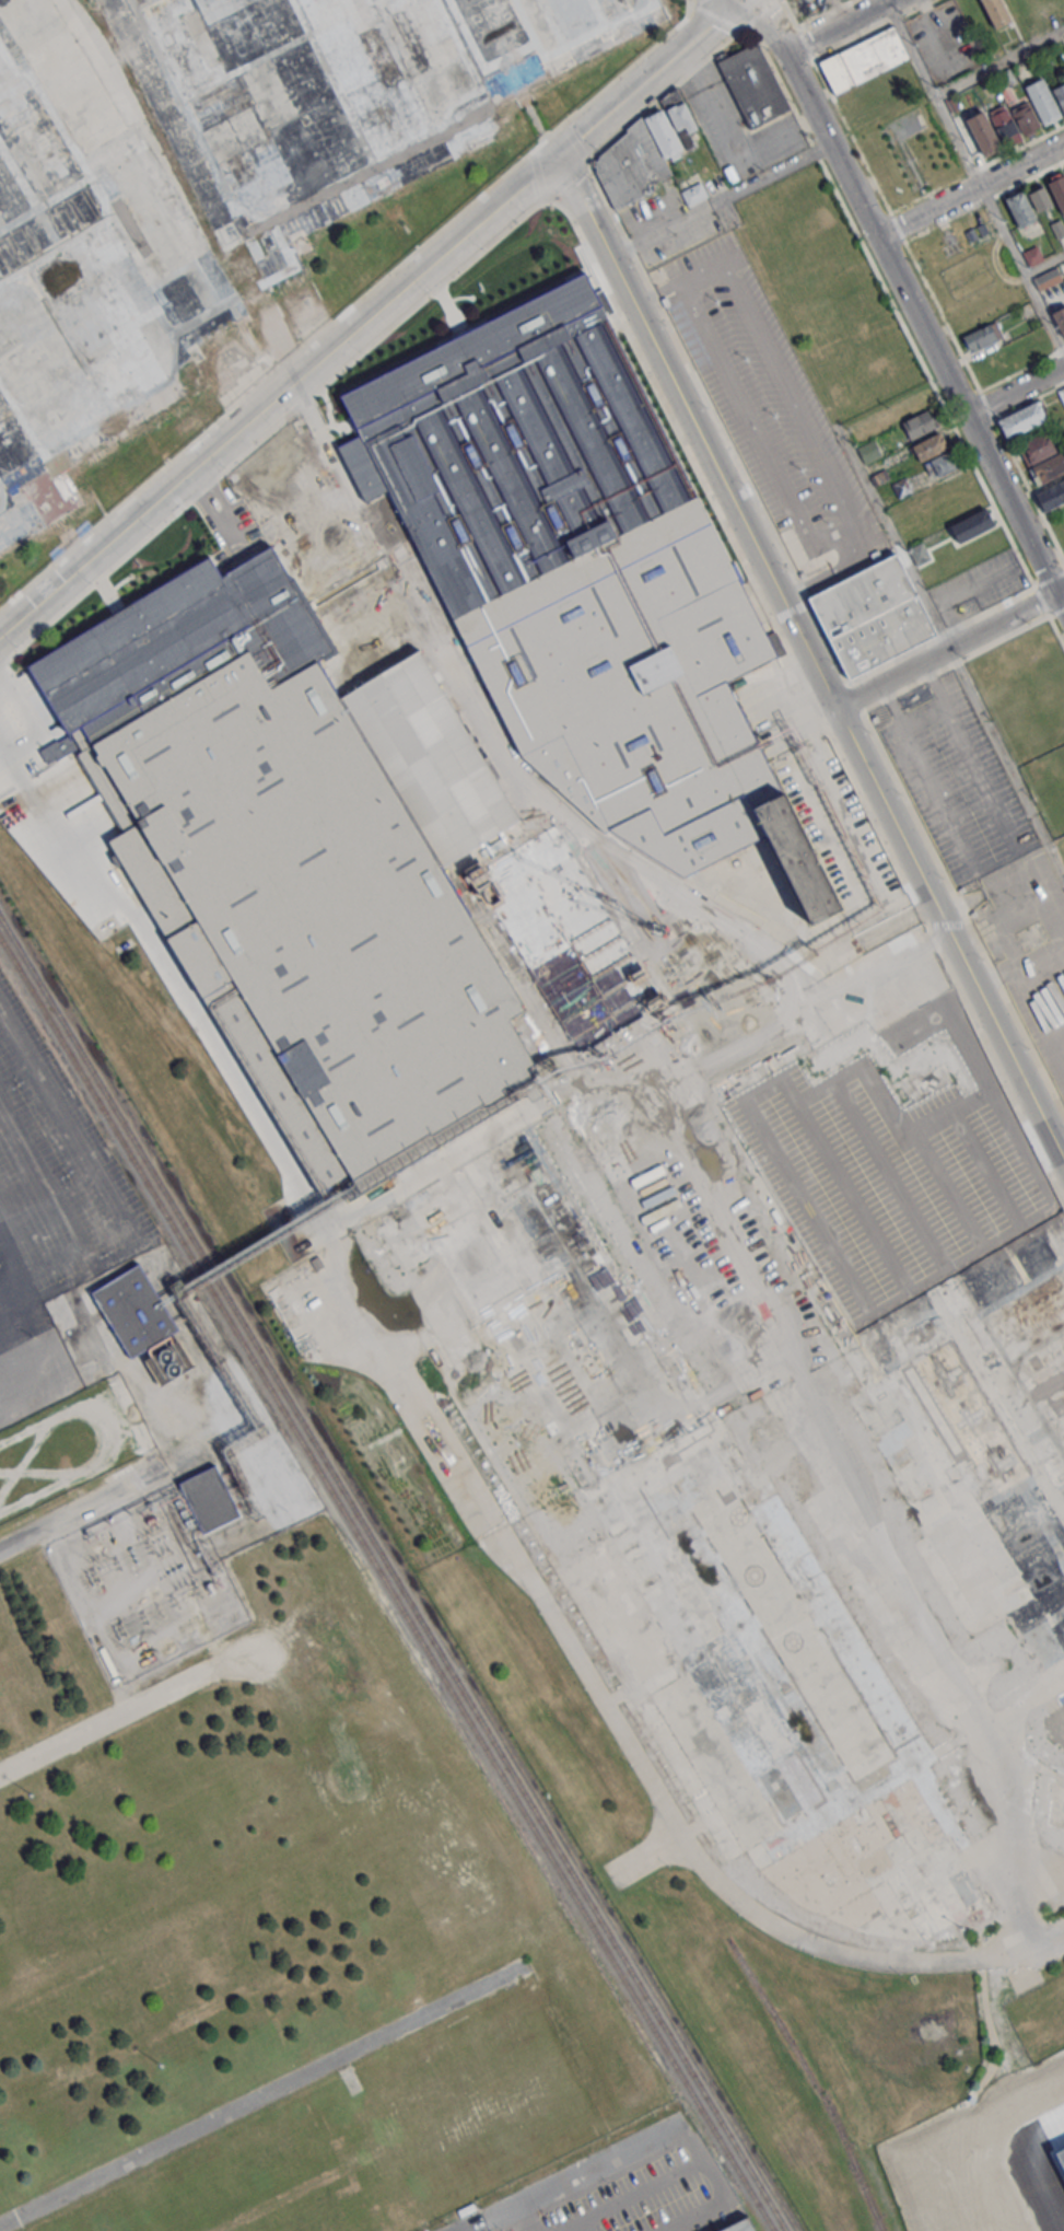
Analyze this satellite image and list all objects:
building: (996, 12)
road: (821, 13)
road: (757, 15)
road: (715, 16)
road: (838, 26)
building: (234, 27)
road: (872, 30)
road: (756, 35)
building: (863, 59)
road: (999, 62)
road: (623, 71)
road: (648, 78)
building: (753, 84)
road: (666, 90)
building: (1060, 95)
building: (1043, 101)
building: (1025, 118)
building: (285, 132)
building: (978, 135)
road: (732, 140)
building: (644, 153)
traffic signals: (558, 156)
road: (977, 167)
road: (570, 176)
road: (975, 178)
building: (1057, 189)
road: (970, 190)
building: (693, 194)
road: (881, 195)
crop: (927, 197)
building: (1038, 197)
road: (718, 199)
road: (984, 200)
building: (1019, 208)
building: (1057, 228)
building: (1031, 255)
road: (1044, 266)
building: (1047, 279)
road: (909, 300)
road: (899, 316)
building: (1059, 318)
building: (982, 337)
road: (1021, 369)
road: (273, 373)
road: (1015, 392)
building: (1062, 393)
road: (278, 396)
road: (1029, 402)
building: (1022, 419)
building: (920, 423)
road: (271, 431)
building: (1037, 448)
building: (868, 451)
building: (935, 455)
building: (1048, 469)
road: (1021, 474)
building: (1051, 496)
road: (839, 503)
road: (764, 515)
building: (972, 525)
road: (735, 544)
building: (919, 553)
road: (830, 574)
building: (583, 579)
road: (1048, 580)
road: (1060, 592)
road: (1055, 612)
building: (872, 615)
road: (1056, 631)
road: (945, 650)
road: (810, 660)
road: (955, 663)
road: (924, 714)
road: (1006, 763)
road: (49, 832)
building: (302, 860)
road: (997, 863)
road: (963, 911)
building: (565, 938)
building: (733, 956)
railway: (72, 1037)
building: (33, 1048)
road: (990, 1049)
building: (14, 1141)
road: (107, 1193)
parking lot: (51, 1211)
building: (135, 1311)
building: (165, 1363)
road: (117, 1500)
building: (209, 1501)
road: (83, 1506)
road: (127, 1522)
road: (56, 1531)
power substation: (152, 1577)
railway: (386, 1583)
road: (126, 1599)
road: (93, 1611)
road: (176, 1635)
railway: (466, 1694)
road: (125, 1695)
road: (104, 1721)
building: (774, 1729)
road: (644, 1773)
road: (259, 2095)
building: (1060, 2158)
parking lot: (954, 2175)
road: (572, 2176)
road: (645, 2187)
road: (524, 2218)
road: (478, 2228)
building: (740, 2229)

